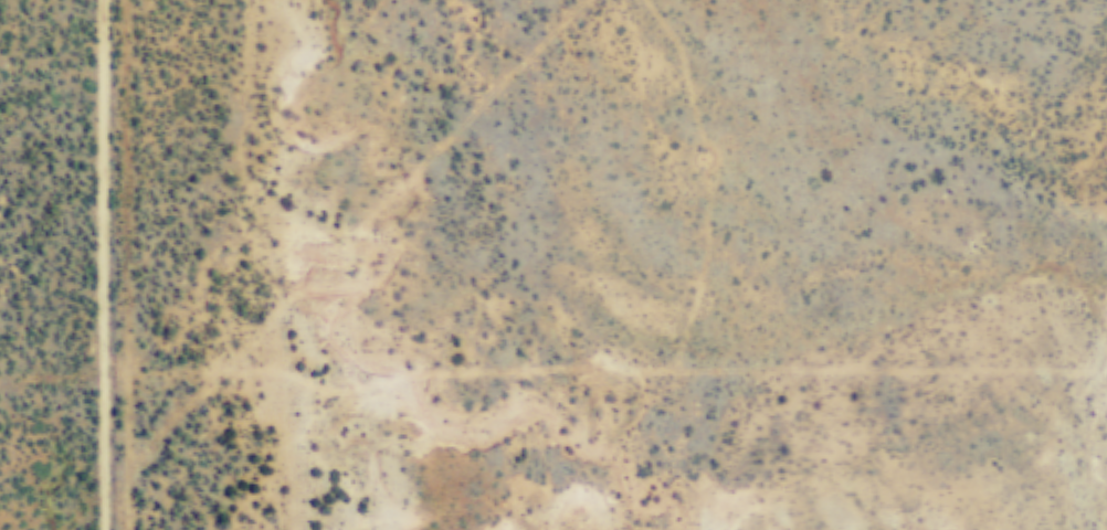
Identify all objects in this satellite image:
road: (103, 265)

